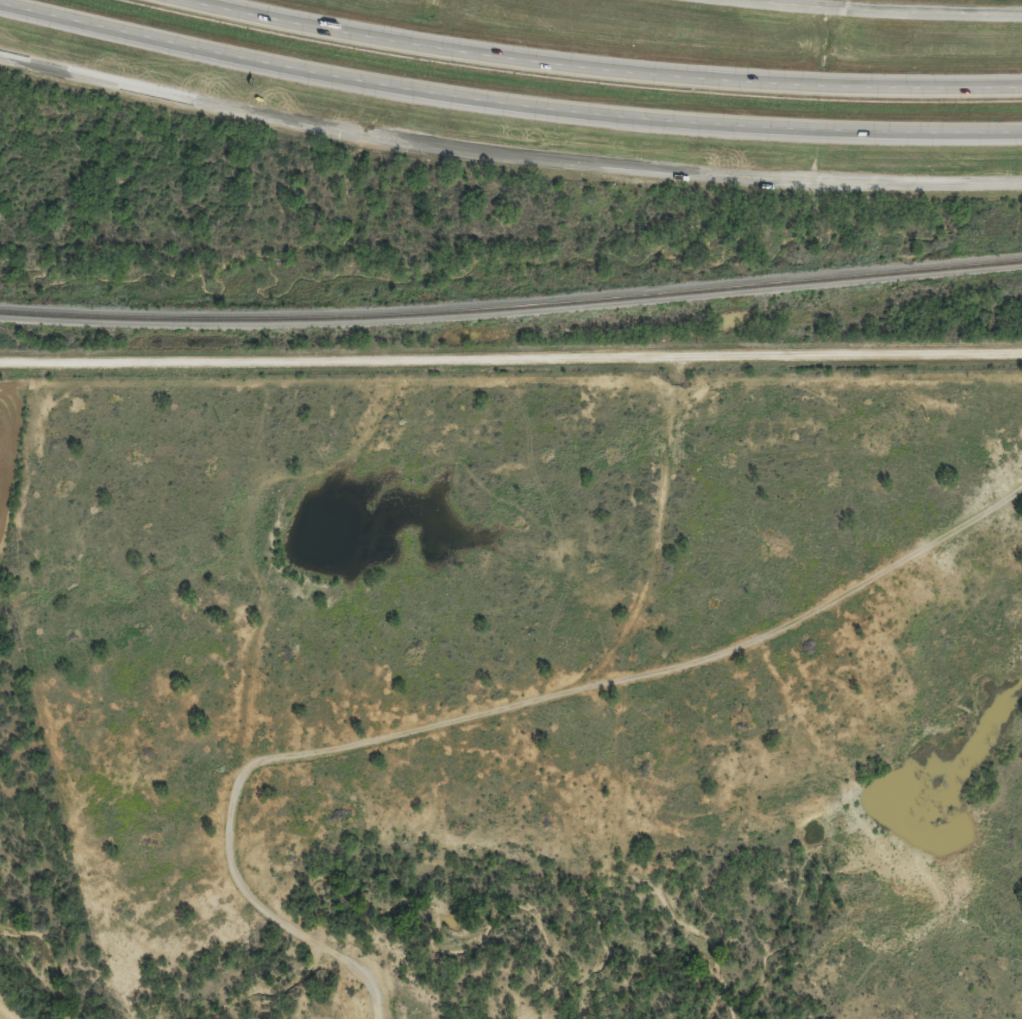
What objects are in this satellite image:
road: (887, 11)
road: (608, 66)
road: (506, 101)
road: (507, 153)
railway: (511, 304)
road: (511, 400)
road: (439, 732)

